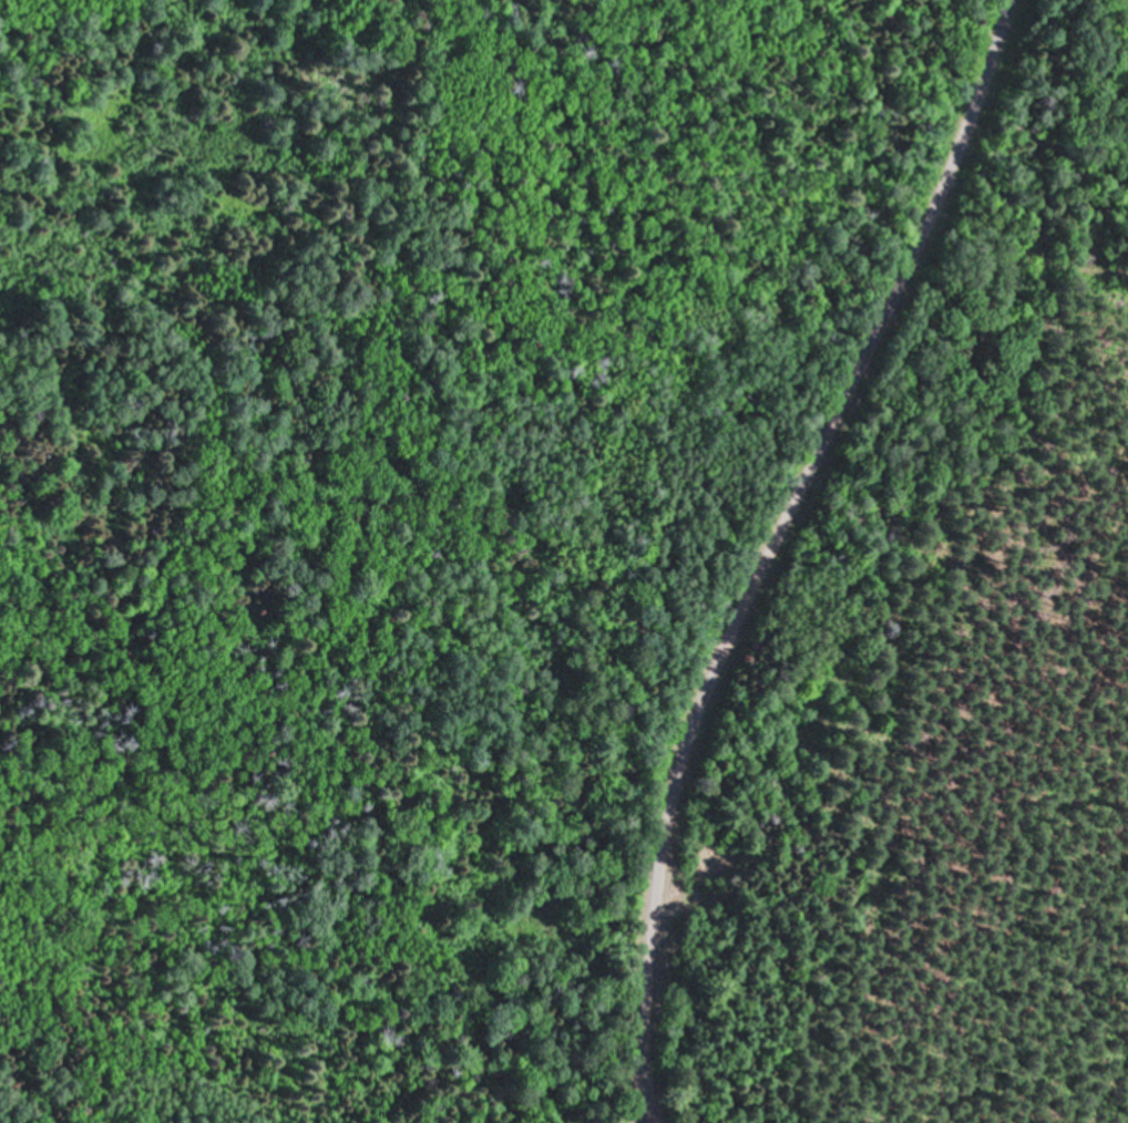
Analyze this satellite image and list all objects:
road: (770, 546)
road: (633, 1119)

